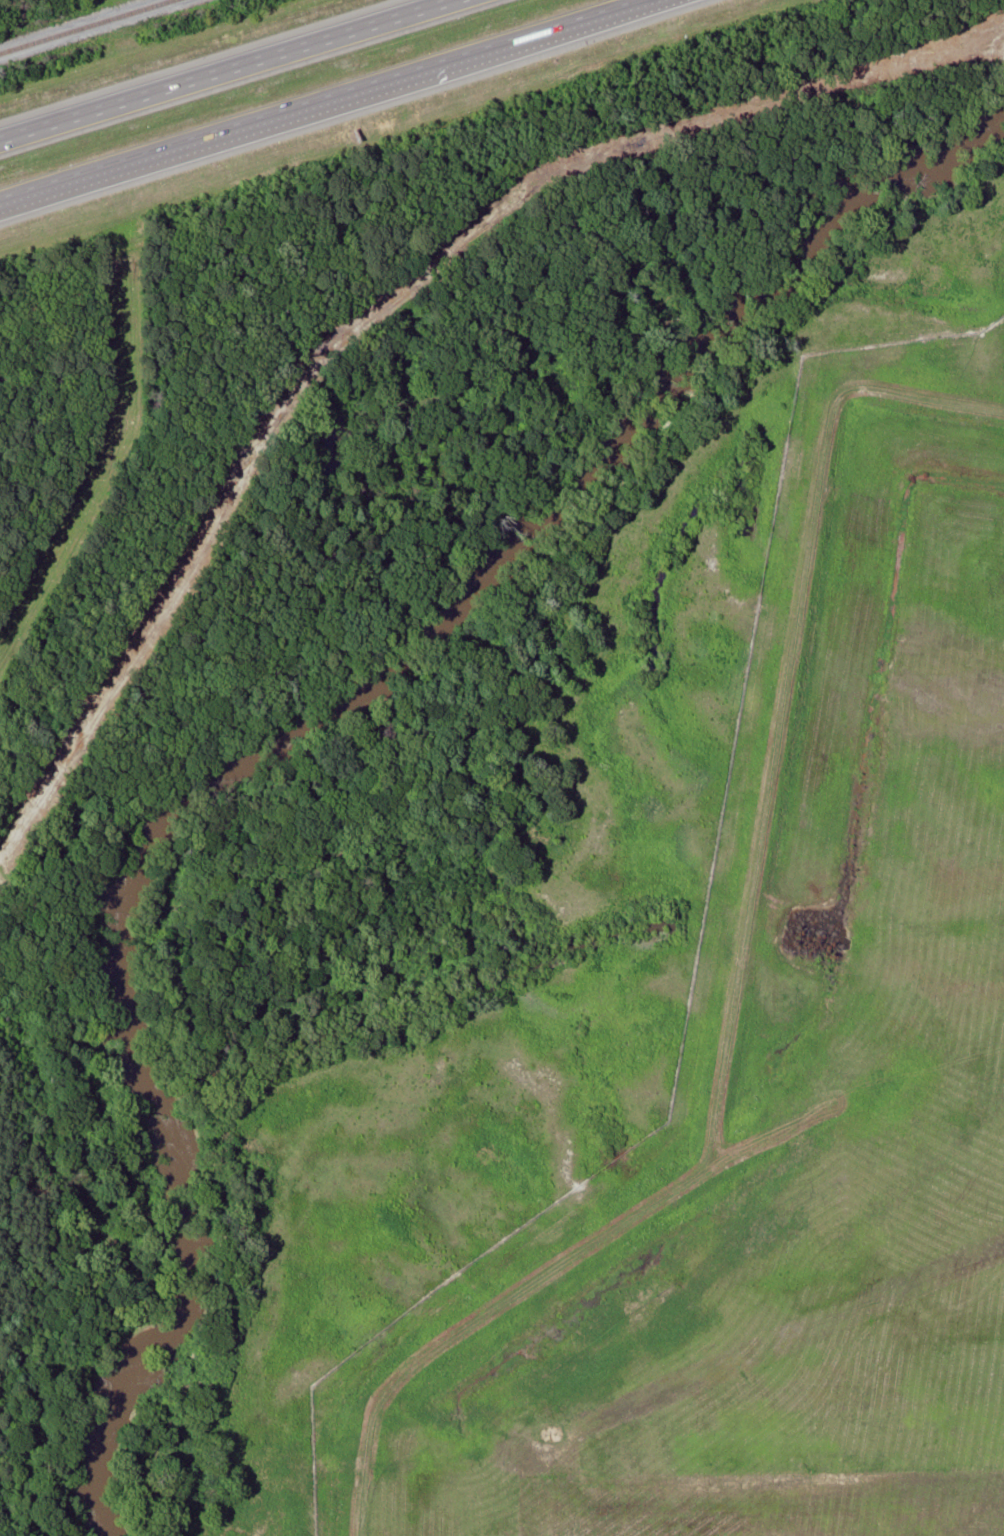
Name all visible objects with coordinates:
railway: (84, 26)
road: (557, 28)
road: (226, 70)
road: (232, 130)
river: (304, 735)
airport: (799, 1054)

